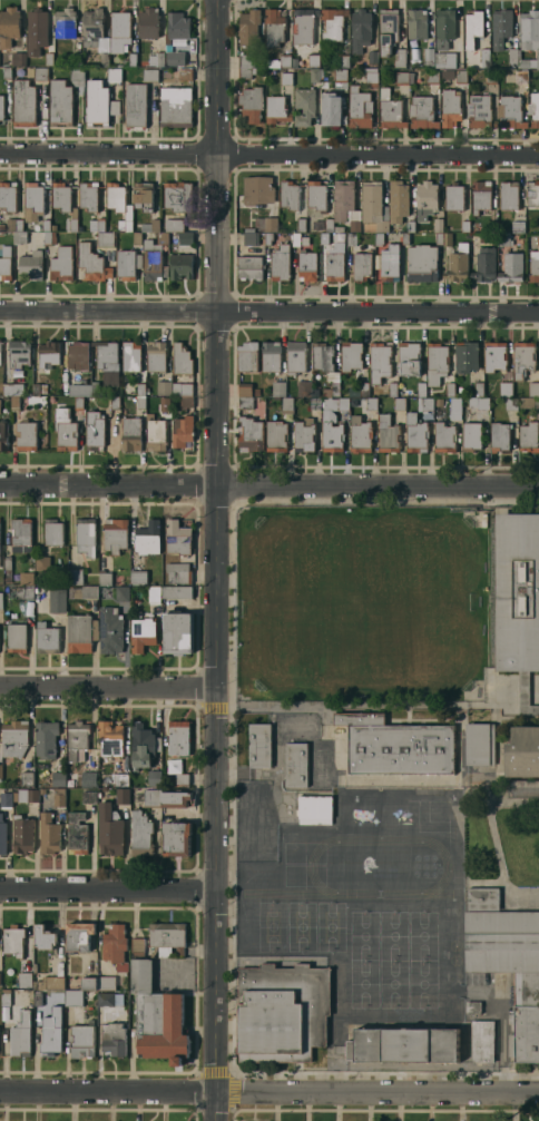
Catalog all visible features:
building: (65, 22)
building: (147, 22)
building: (333, 22)
building: (416, 23)
building: (304, 24)
building: (8, 26)
building: (177, 26)
building: (248, 27)
building: (274, 27)
building: (443, 27)
building: (473, 27)
building: (500, 27)
building: (360, 29)
building: (36, 30)
building: (119, 30)
building: (388, 30)
building: (96, 33)
building: (529, 37)
building: (484, 55)
building: (513, 55)
building: (372, 56)
building: (429, 56)
building: (19, 58)
building: (48, 58)
building: (156, 58)
building: (175, 58)
building: (399, 58)
building: (73, 59)
building: (129, 59)
building: (313, 59)
building: (343, 59)
building: (444, 59)
building: (245, 60)
building: (278, 60)
building: (7, 72)
building: (40, 72)
building: (184, 72)
building: (245, 72)
building: (114, 73)
building: (77, 75)
building: (149, 75)
building: (314, 75)
building: (340, 75)
building: (371, 76)
building: (433, 76)
building: (461, 76)
building: (491, 76)
building: (521, 76)
building: (286, 77)
building: (402, 77)
building: (23, 102)
building: (60, 102)
building: (99, 102)
building: (251, 102)
building: (135, 105)
building: (176, 106)
building: (304, 106)
building: (1, 107)
building: (360, 107)
building: (450, 107)
building: (533, 108)
building: (276, 109)
building: (332, 109)
building: (390, 110)
building: (479, 110)
building: (422, 111)
building: (510, 111)
road: (268, 156)
building: (257, 189)
building: (532, 193)
building: (509, 194)
building: (8, 195)
building: (88, 195)
building: (143, 195)
building: (177, 195)
building: (290, 195)
building: (316, 195)
building: (481, 195)
building: (61, 196)
building: (453, 196)
building: (398, 199)
building: (425, 199)
building: (33, 200)
building: (345, 204)
building: (119, 205)
building: (373, 207)
building: (71, 220)
building: (271, 223)
building: (13, 224)
building: (46, 224)
building: (97, 224)
building: (173, 224)
building: (301, 224)
building: (329, 224)
building: (1, 225)
building: (150, 225)
building: (410, 225)
building: (438, 225)
building: (464, 225)
building: (37, 226)
building: (492, 226)
building: (518, 226)
building: (339, 228)
building: (248, 229)
building: (19, 237)
building: (50, 237)
building: (136, 237)
building: (186, 237)
building: (267, 237)
building: (324, 237)
building: (405, 237)
building: (105, 238)
building: (251, 238)
building: (379, 238)
building: (439, 238)
building: (447, 238)
building: (484, 238)
building: (504, 238)
building: (300, 239)
building: (352, 239)
building: (154, 257)
building: (335, 260)
building: (390, 262)
building: (421, 262)
building: (4, 263)
building: (91, 263)
building: (127, 263)
building: (280, 263)
building: (61, 264)
building: (484, 264)
building: (31, 265)
building: (180, 265)
building: (306, 265)
building: (361, 265)
building: (249, 266)
building: (457, 266)
building: (533, 266)
building: (511, 267)
road: (269, 312)
building: (0, 346)
building: (19, 352)
building: (48, 352)
building: (350, 354)
building: (78, 355)
building: (271, 355)
building: (494, 355)
building: (156, 356)
building: (247, 356)
building: (295, 356)
building: (465, 356)
building: (409, 357)
building: (522, 357)
building: (182, 358)
building: (108, 361)
building: (379, 362)
building: (435, 362)
building: (134, 363)
building: (325, 364)
building: (95, 387)
building: (164, 387)
building: (278, 387)
building: (303, 387)
building: (532, 387)
building: (13, 389)
building: (36, 389)
building: (182, 389)
building: (245, 389)
building: (392, 389)
building: (421, 389)
building: (450, 389)
building: (461, 389)
building: (478, 389)
building: (504, 389)
building: (359, 390)
building: (255, 391)
building: (166, 401)
building: (245, 401)
building: (438, 401)
building: (14, 402)
building: (78, 402)
building: (115, 402)
building: (140, 402)
building: (186, 402)
building: (314, 402)
building: (479, 402)
building: (529, 402)
building: (371, 403)
building: (399, 403)
building: (424, 403)
building: (510, 403)
building: (286, 404)
building: (455, 407)
building: (326, 424)
building: (94, 430)
building: (182, 431)
building: (415, 432)
building: (131, 433)
building: (3, 434)
building: (67, 434)
building: (156, 434)
building: (249, 434)
building: (304, 434)
building: (360, 434)
building: (388, 434)
building: (26, 435)
building: (276, 435)
building: (471, 435)
building: (444, 436)
building: (499, 436)
building: (528, 436)
road: (269, 485)
building: (52, 531)
building: (21, 532)
building: (115, 534)
building: (86, 535)
building: (148, 537)
building: (177, 537)
road: (215, 560)
building: (7, 562)
building: (42, 562)
building: (177, 571)
building: (8, 576)
building: (75, 576)
building: (26, 577)
building: (138, 577)
building: (108, 578)
building: (104, 591)
building: (177, 591)
building: (517, 591)
building: (24, 592)
building: (82, 592)
building: (121, 592)
building: (154, 593)
building: (1, 600)
building: (57, 600)
building: (110, 629)
building: (80, 631)
building: (177, 632)
building: (141, 633)
building: (17, 637)
building: (47, 638)
road: (107, 686)
building: (526, 696)
road: (272, 705)
building: (14, 737)
building: (178, 737)
building: (45, 738)
building: (110, 738)
building: (77, 739)
building: (480, 744)
building: (143, 745)
building: (259, 745)
building: (395, 745)
building: (522, 751)
building: (295, 764)
building: (0, 775)
building: (26, 777)
building: (154, 777)
building: (58, 778)
building: (88, 778)
building: (120, 779)
building: (182, 780)
building: (42, 790)
building: (27, 795)
building: (89, 796)
building: (121, 796)
building: (137, 796)
building: (59, 797)
building: (151, 797)
building: (6, 798)
building: (176, 798)
building: (314, 808)
building: (109, 829)
building: (77, 833)
building: (140, 833)
building: (22, 834)
building: (49, 834)
building: (2, 835)
building: (176, 837)
road: (107, 892)
building: (79, 935)
building: (45, 936)
building: (167, 937)
building: (13, 940)
building: (137, 944)
building: (115, 945)
building: (153, 952)
building: (507, 961)
building: (35, 966)
building: (24, 979)
building: (108, 981)
building: (50, 982)
building: (89, 982)
building: (55, 995)
building: (72, 997)
building: (6, 999)
building: (38, 999)
building: (110, 999)
building: (472, 1006)
building: (282, 1012)
building: (157, 1016)
building: (51, 1031)
building: (20, 1034)
building: (114, 1038)
building: (81, 1041)
building: (482, 1041)
building: (403, 1044)
road: (269, 1091)

